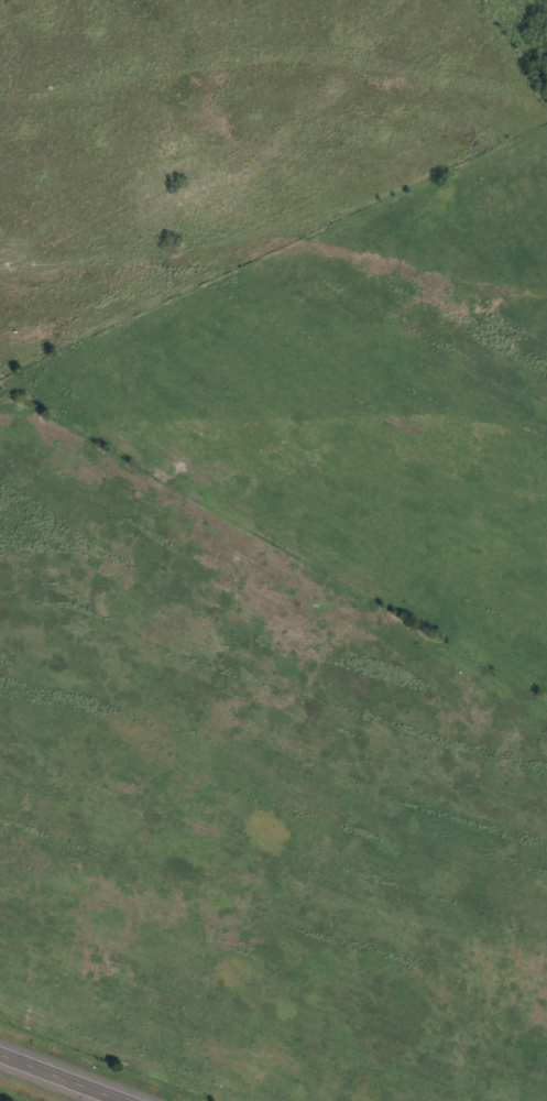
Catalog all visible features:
road: (72, 1072)

